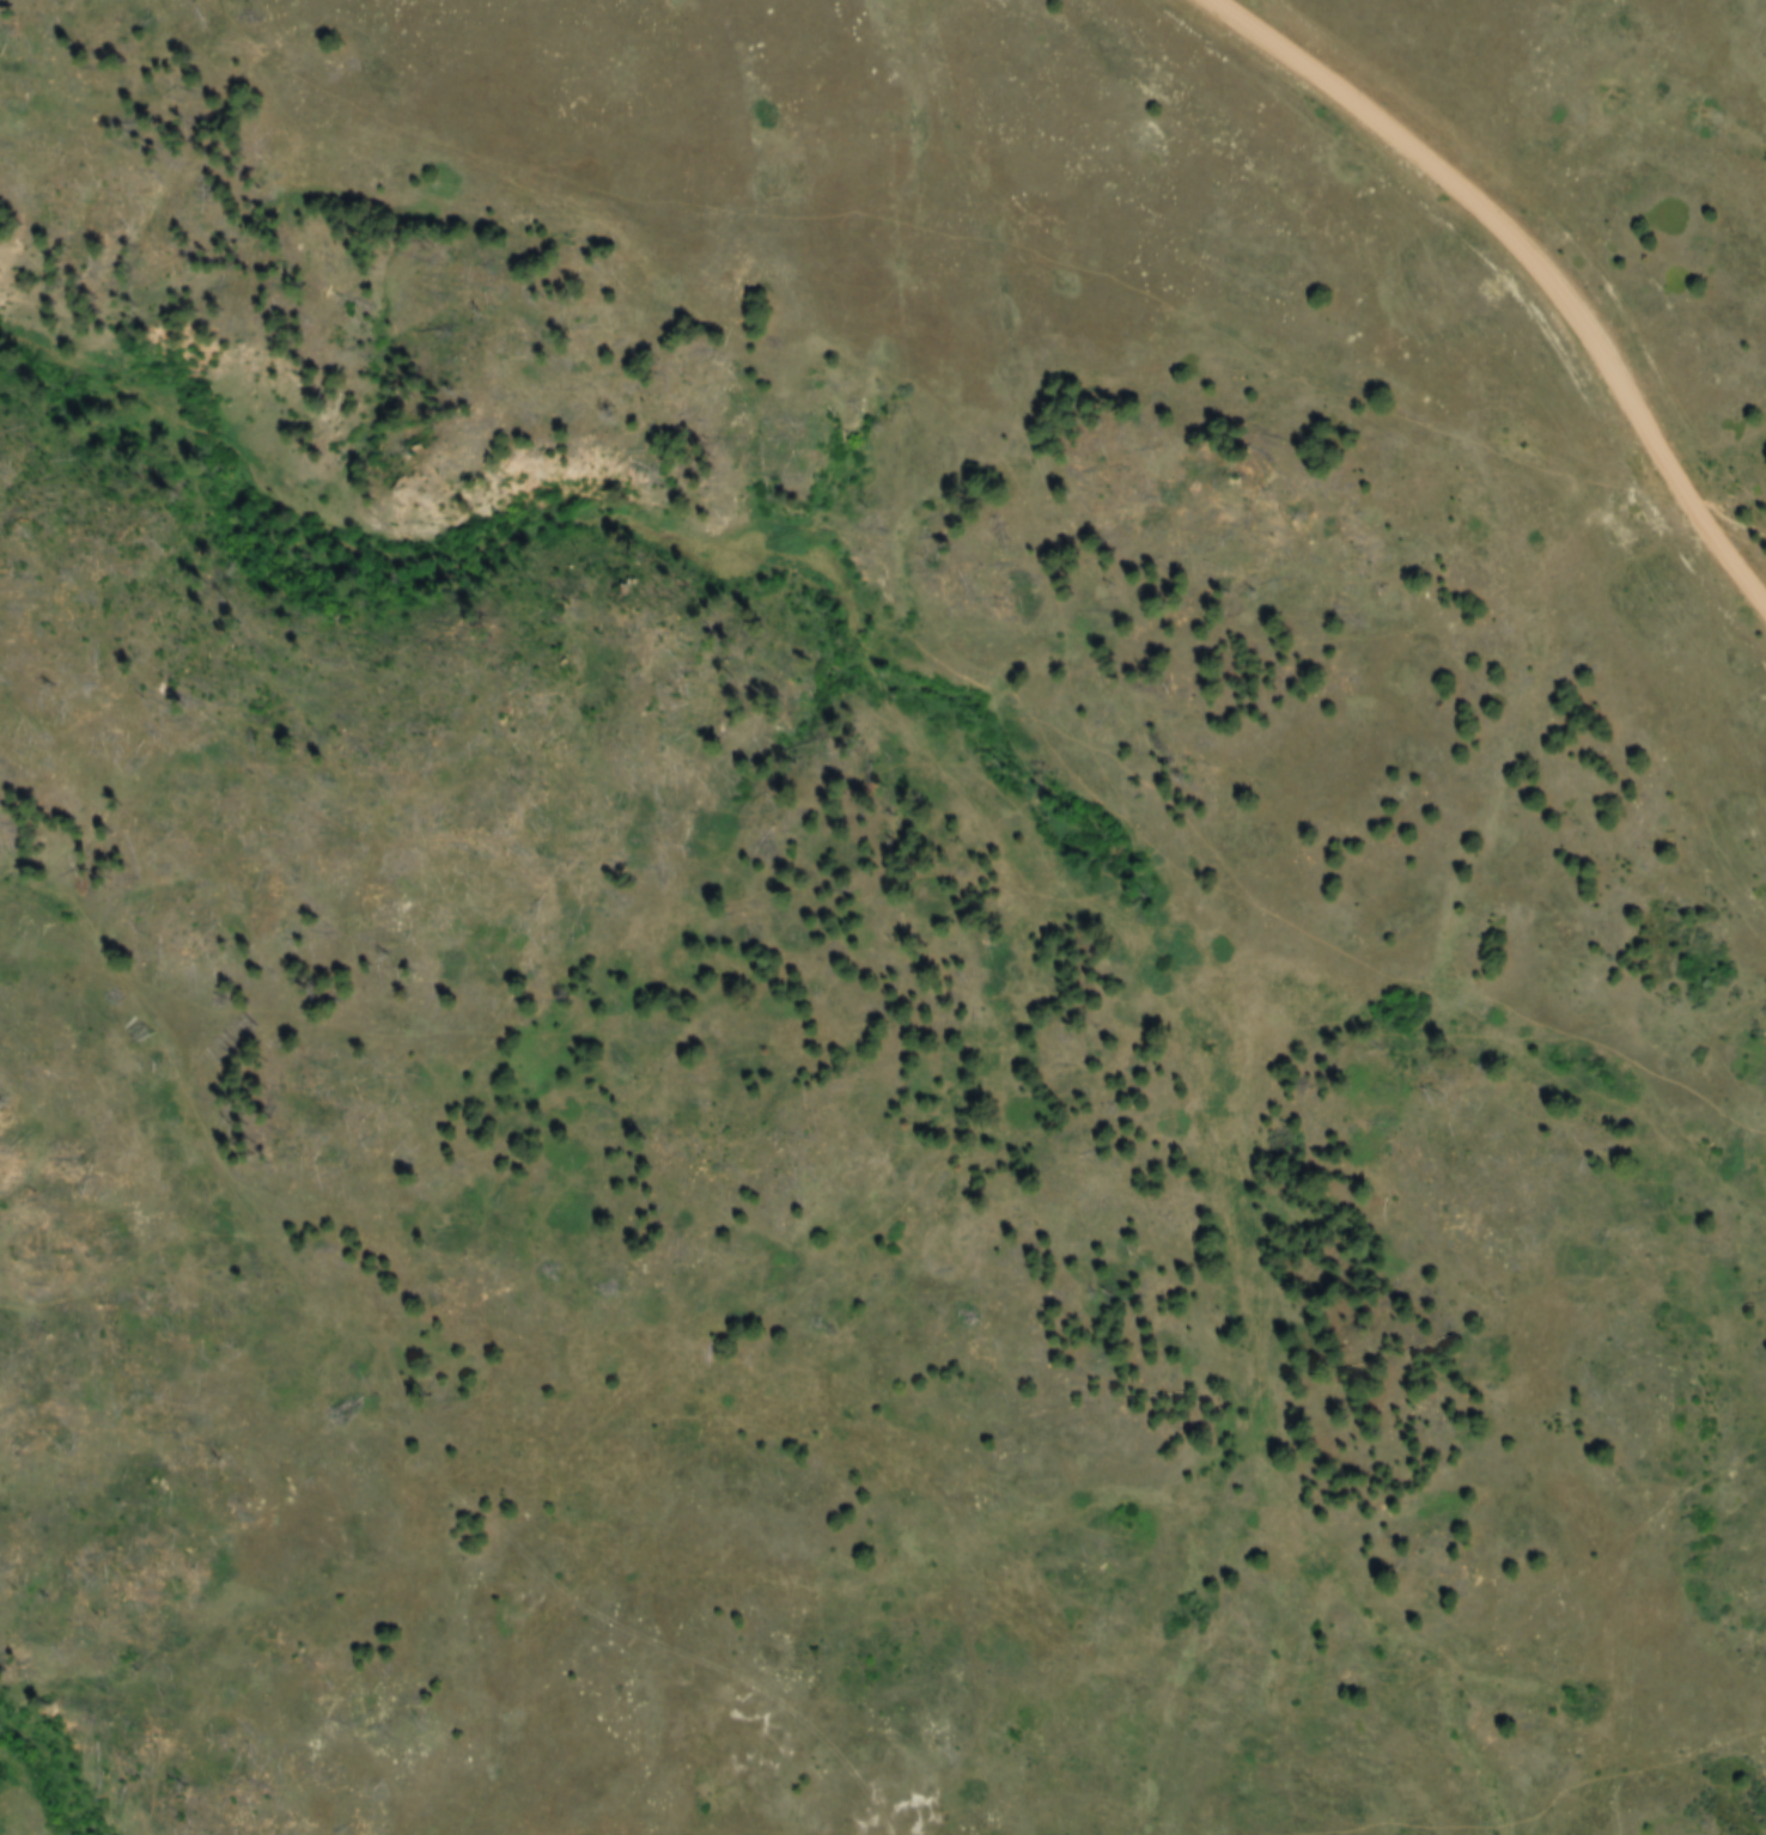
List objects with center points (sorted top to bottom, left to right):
road: (1531, 260)

